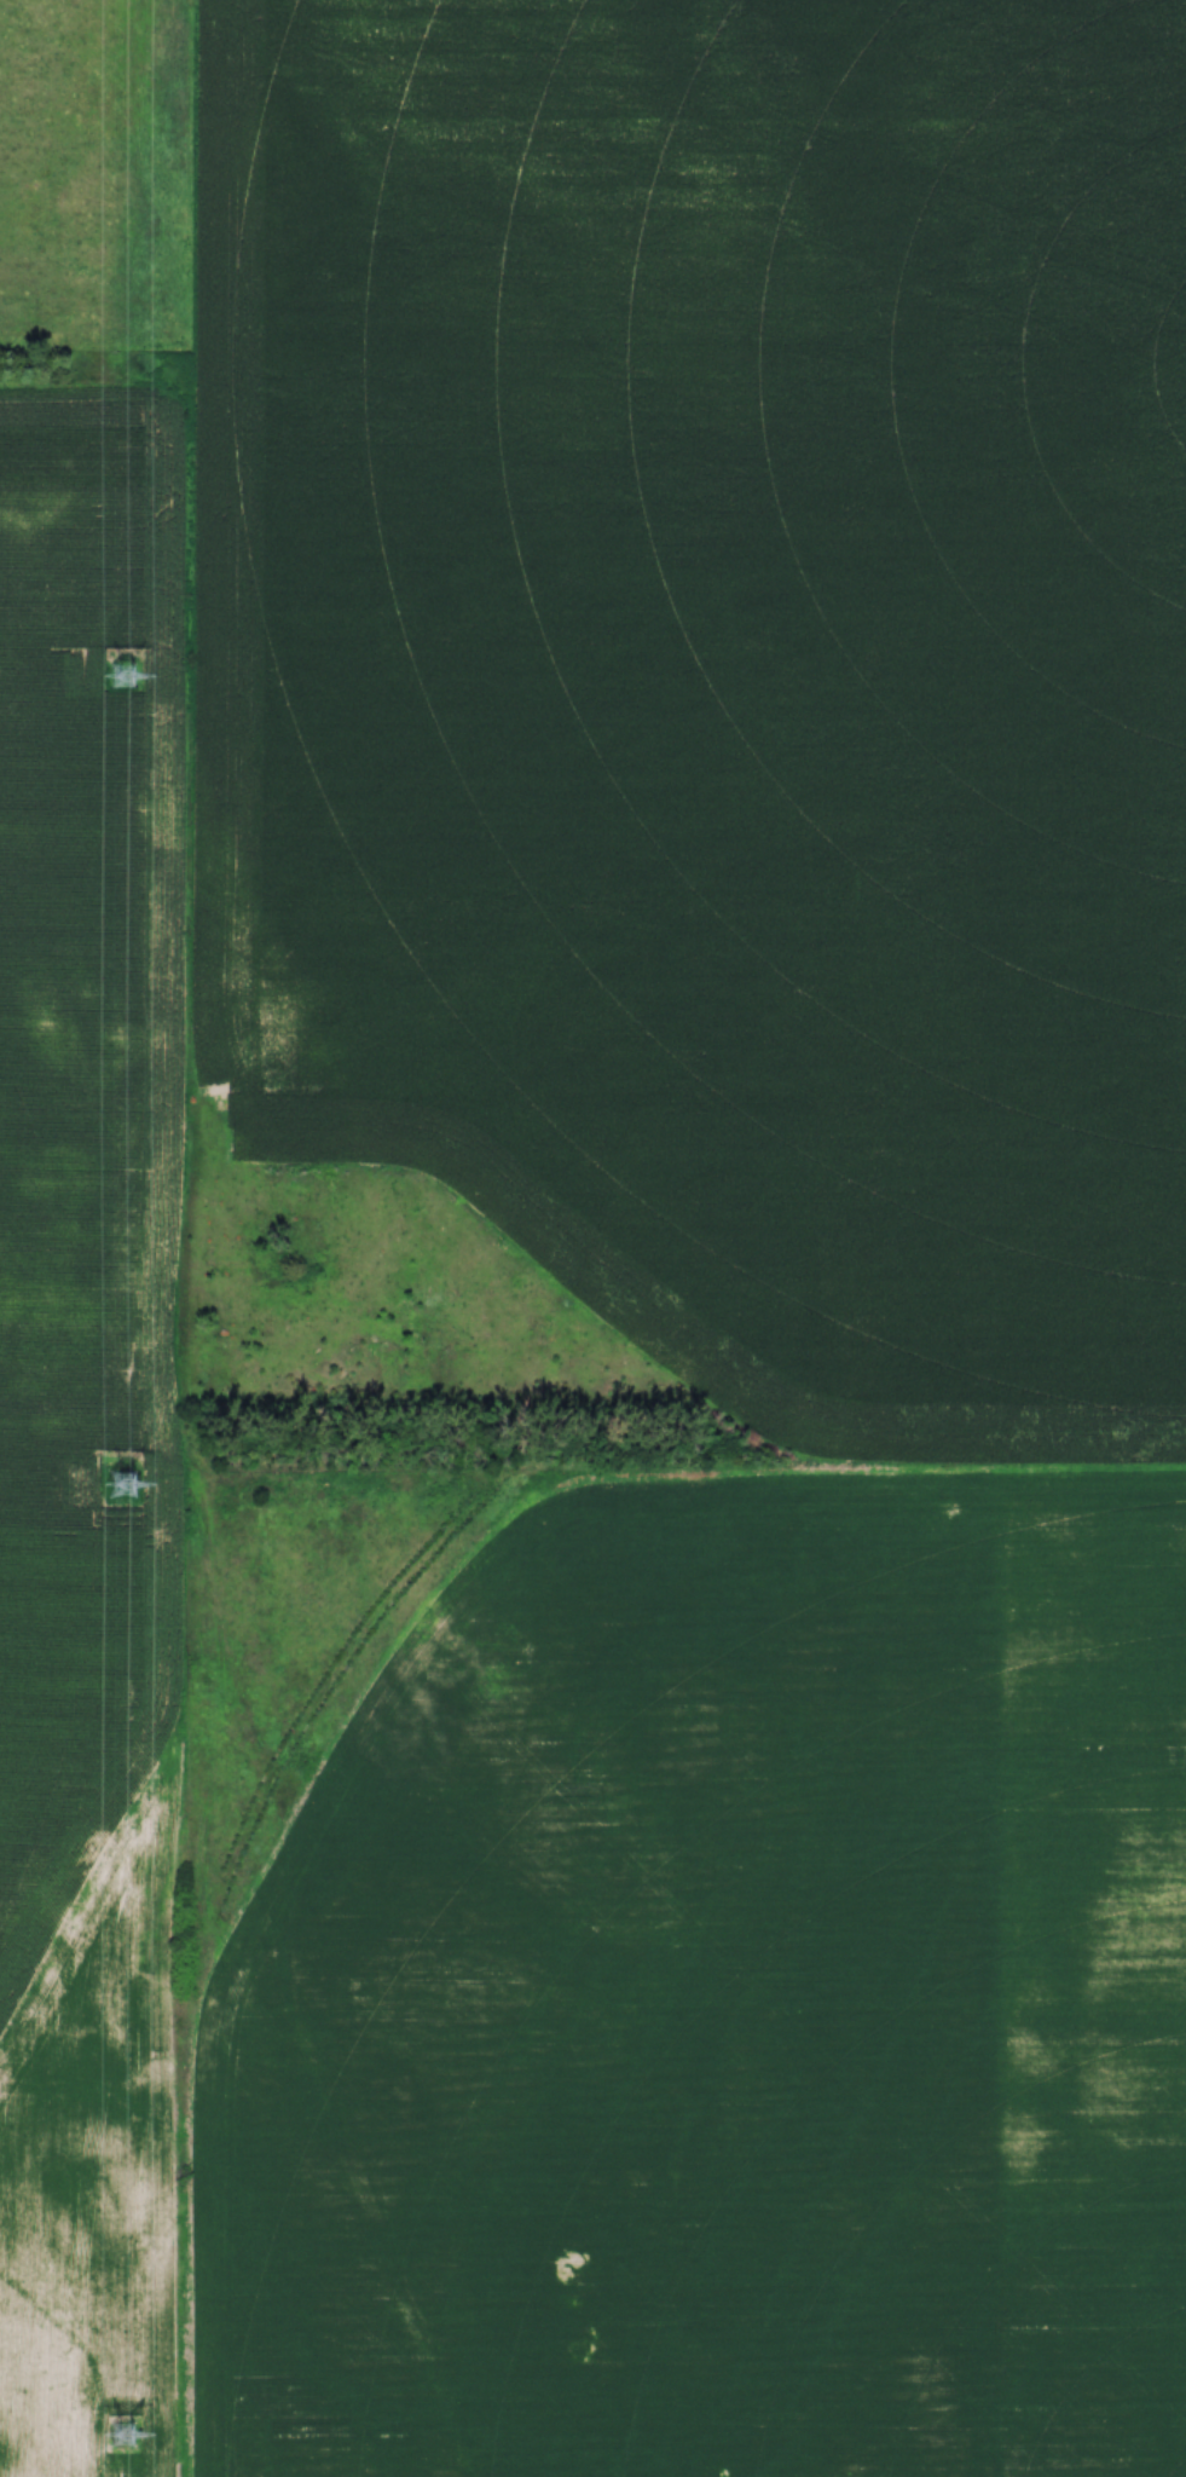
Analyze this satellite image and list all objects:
power tower: (128, 675)
power tower: (129, 1484)
power tower: (123, 2437)

